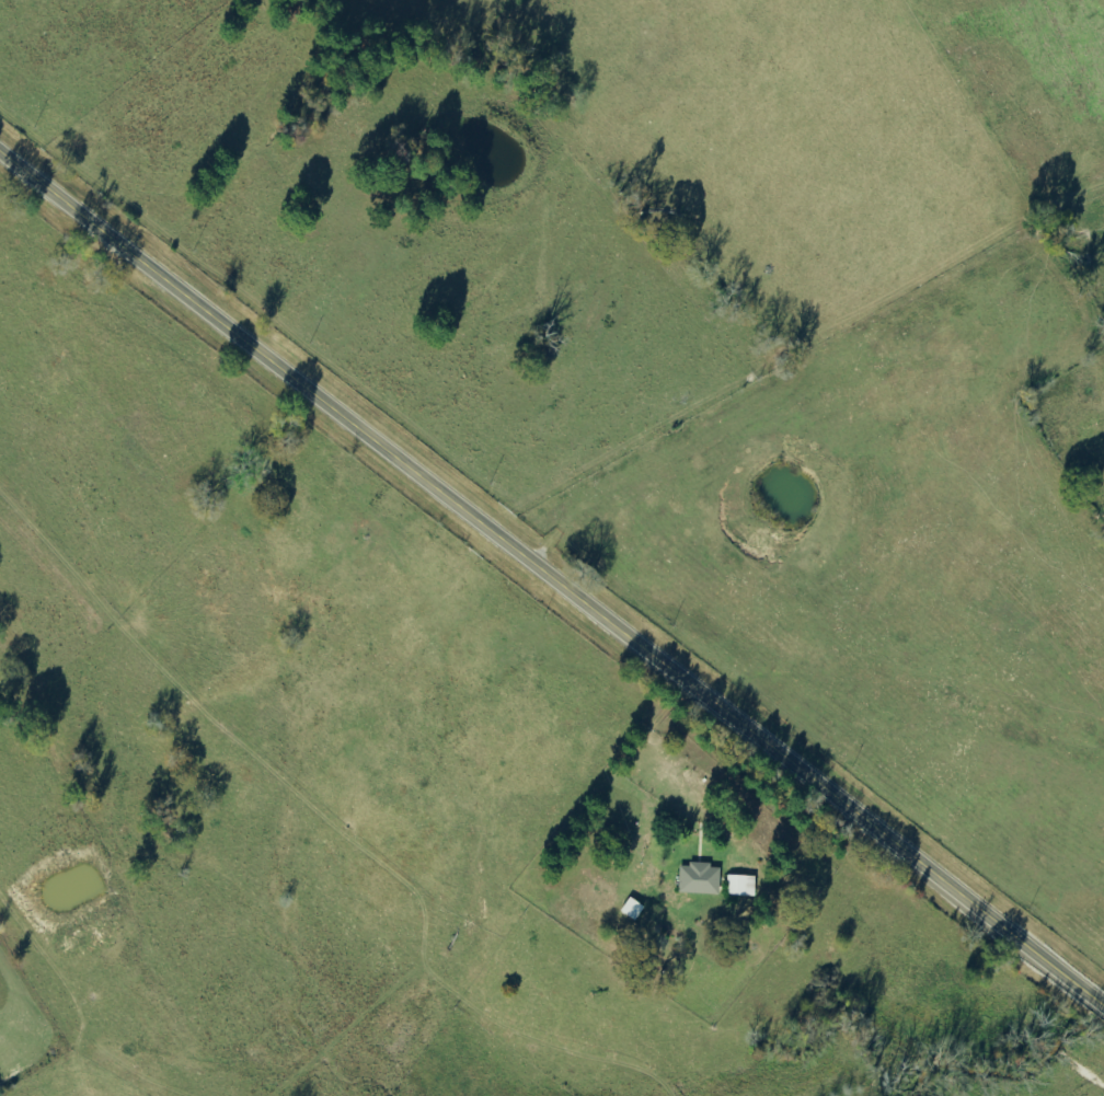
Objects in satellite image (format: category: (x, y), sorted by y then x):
road: (552, 579)
building: (697, 879)
building: (739, 886)

